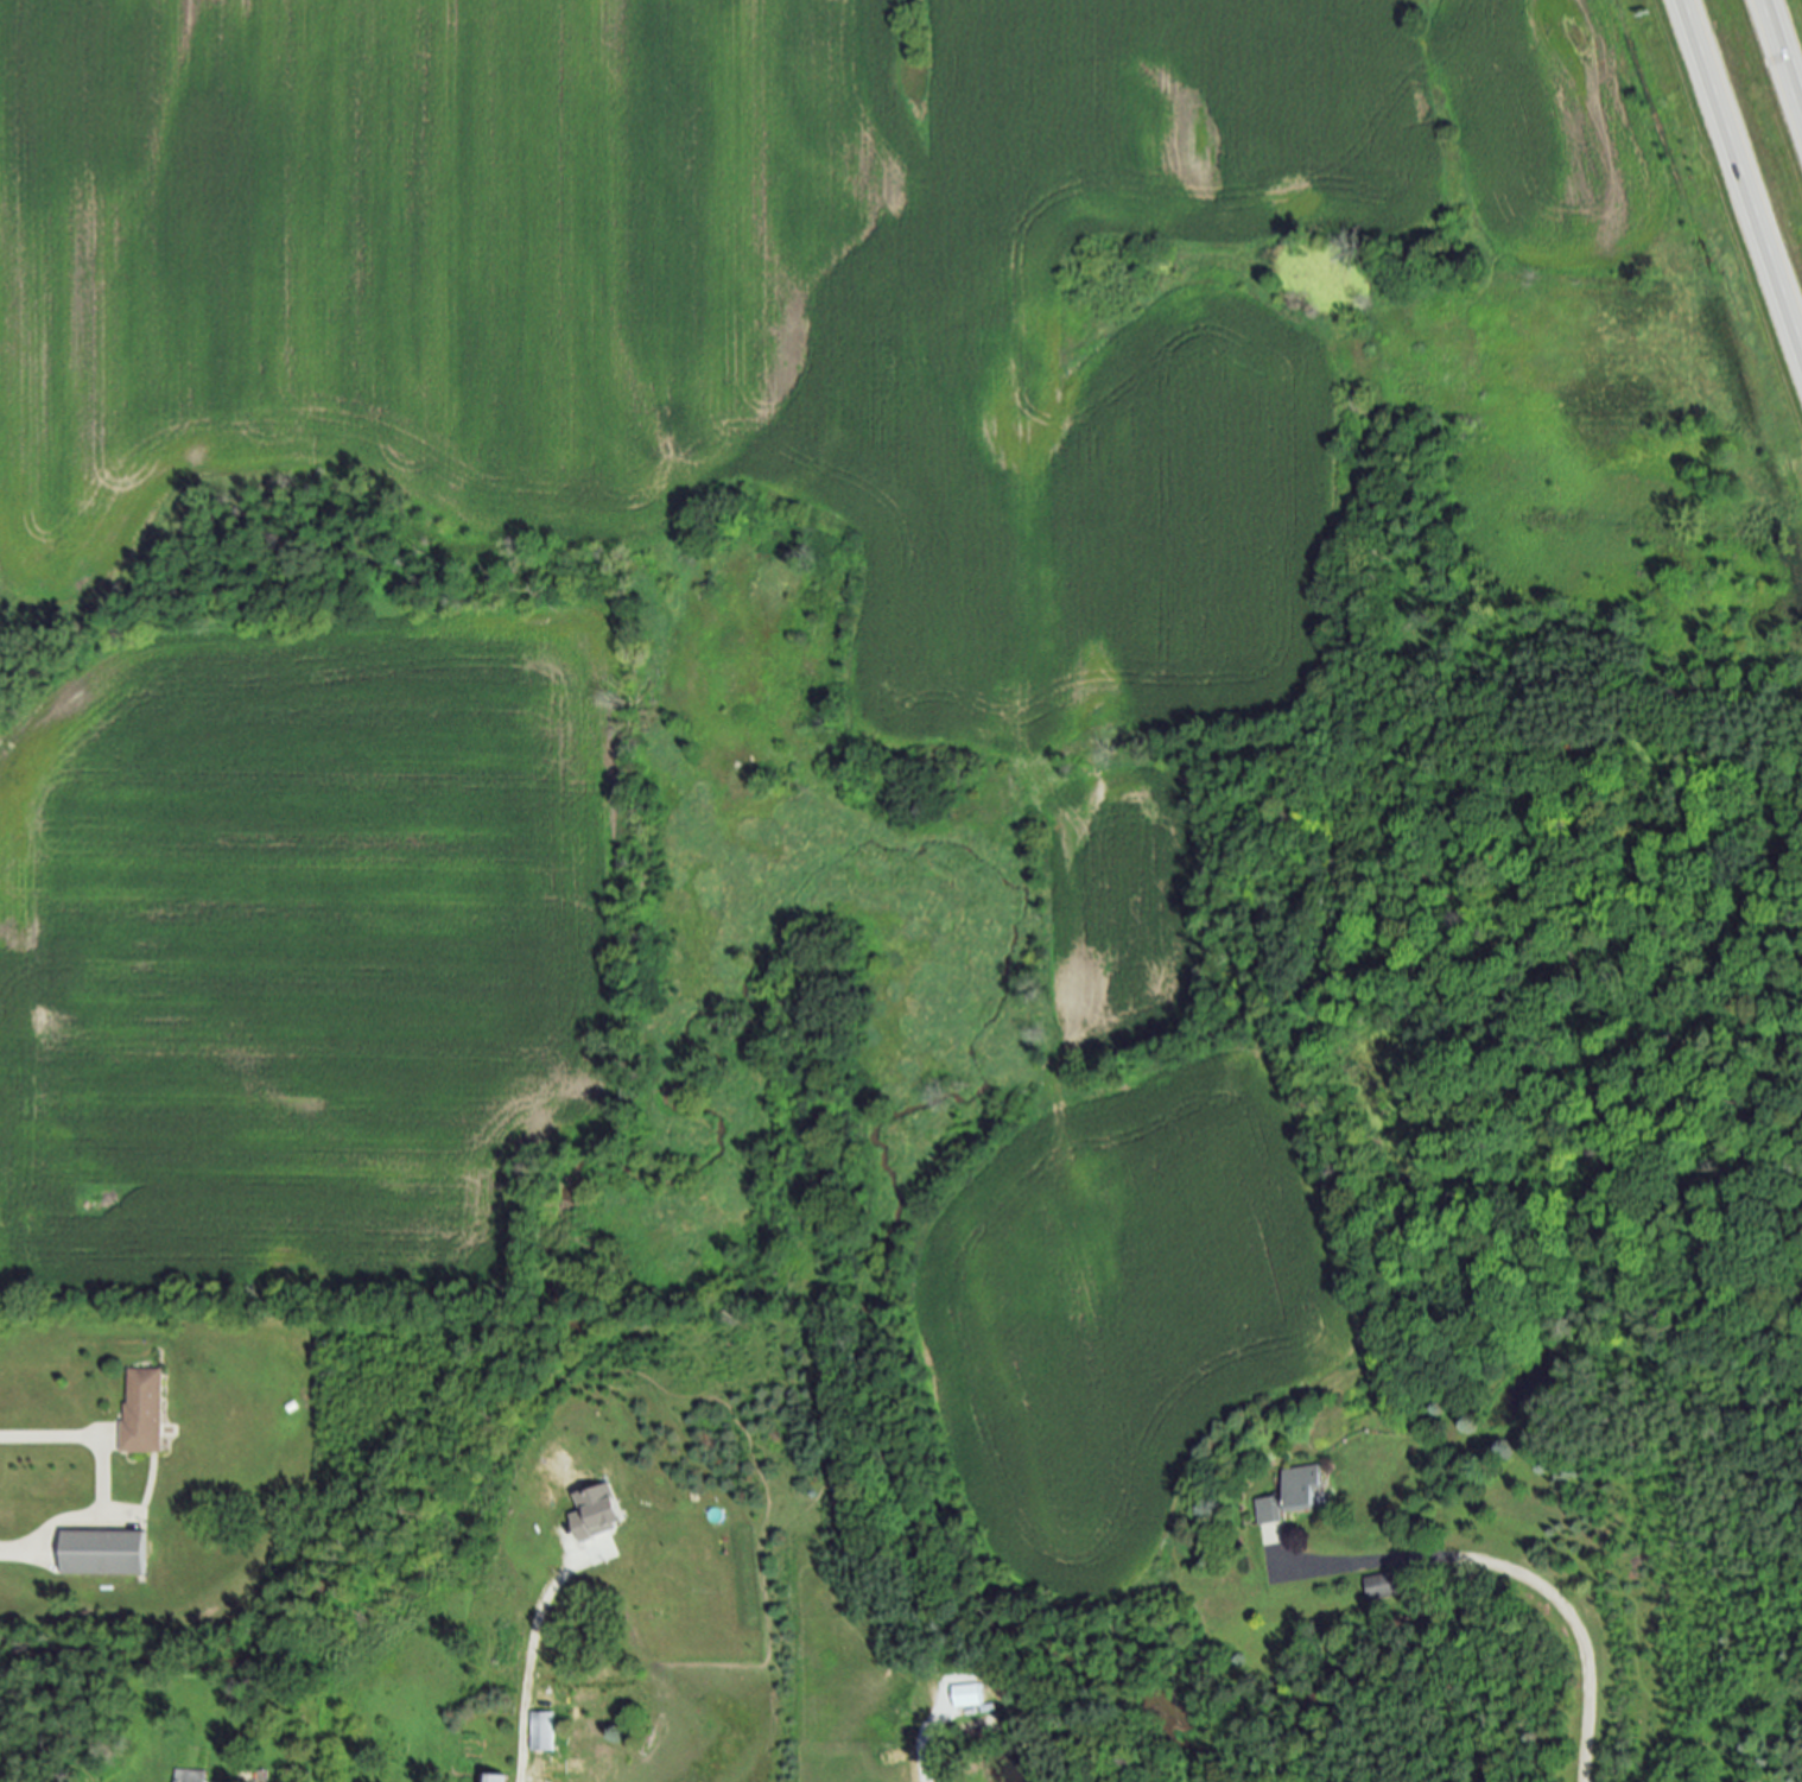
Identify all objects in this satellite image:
road: (1788, 40)
road: (1747, 157)
building: (144, 1412)
road: (103, 1483)
building: (1284, 1502)
building: (598, 1510)
building: (102, 1554)
road: (1529, 1571)
building: (1381, 1587)
road: (527, 1669)
building: (969, 1698)
building: (542, 1733)
road: (935, 1736)
building: (584, 1769)
building: (188, 1776)
building: (264, 1777)
building: (493, 1780)

